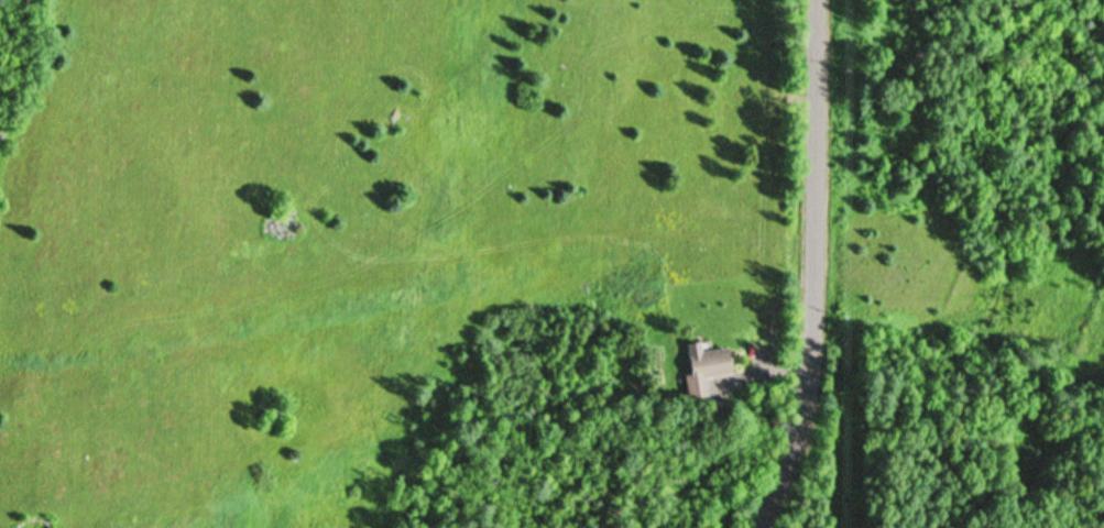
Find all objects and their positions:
road: (767, 265)
building: (700, 372)

